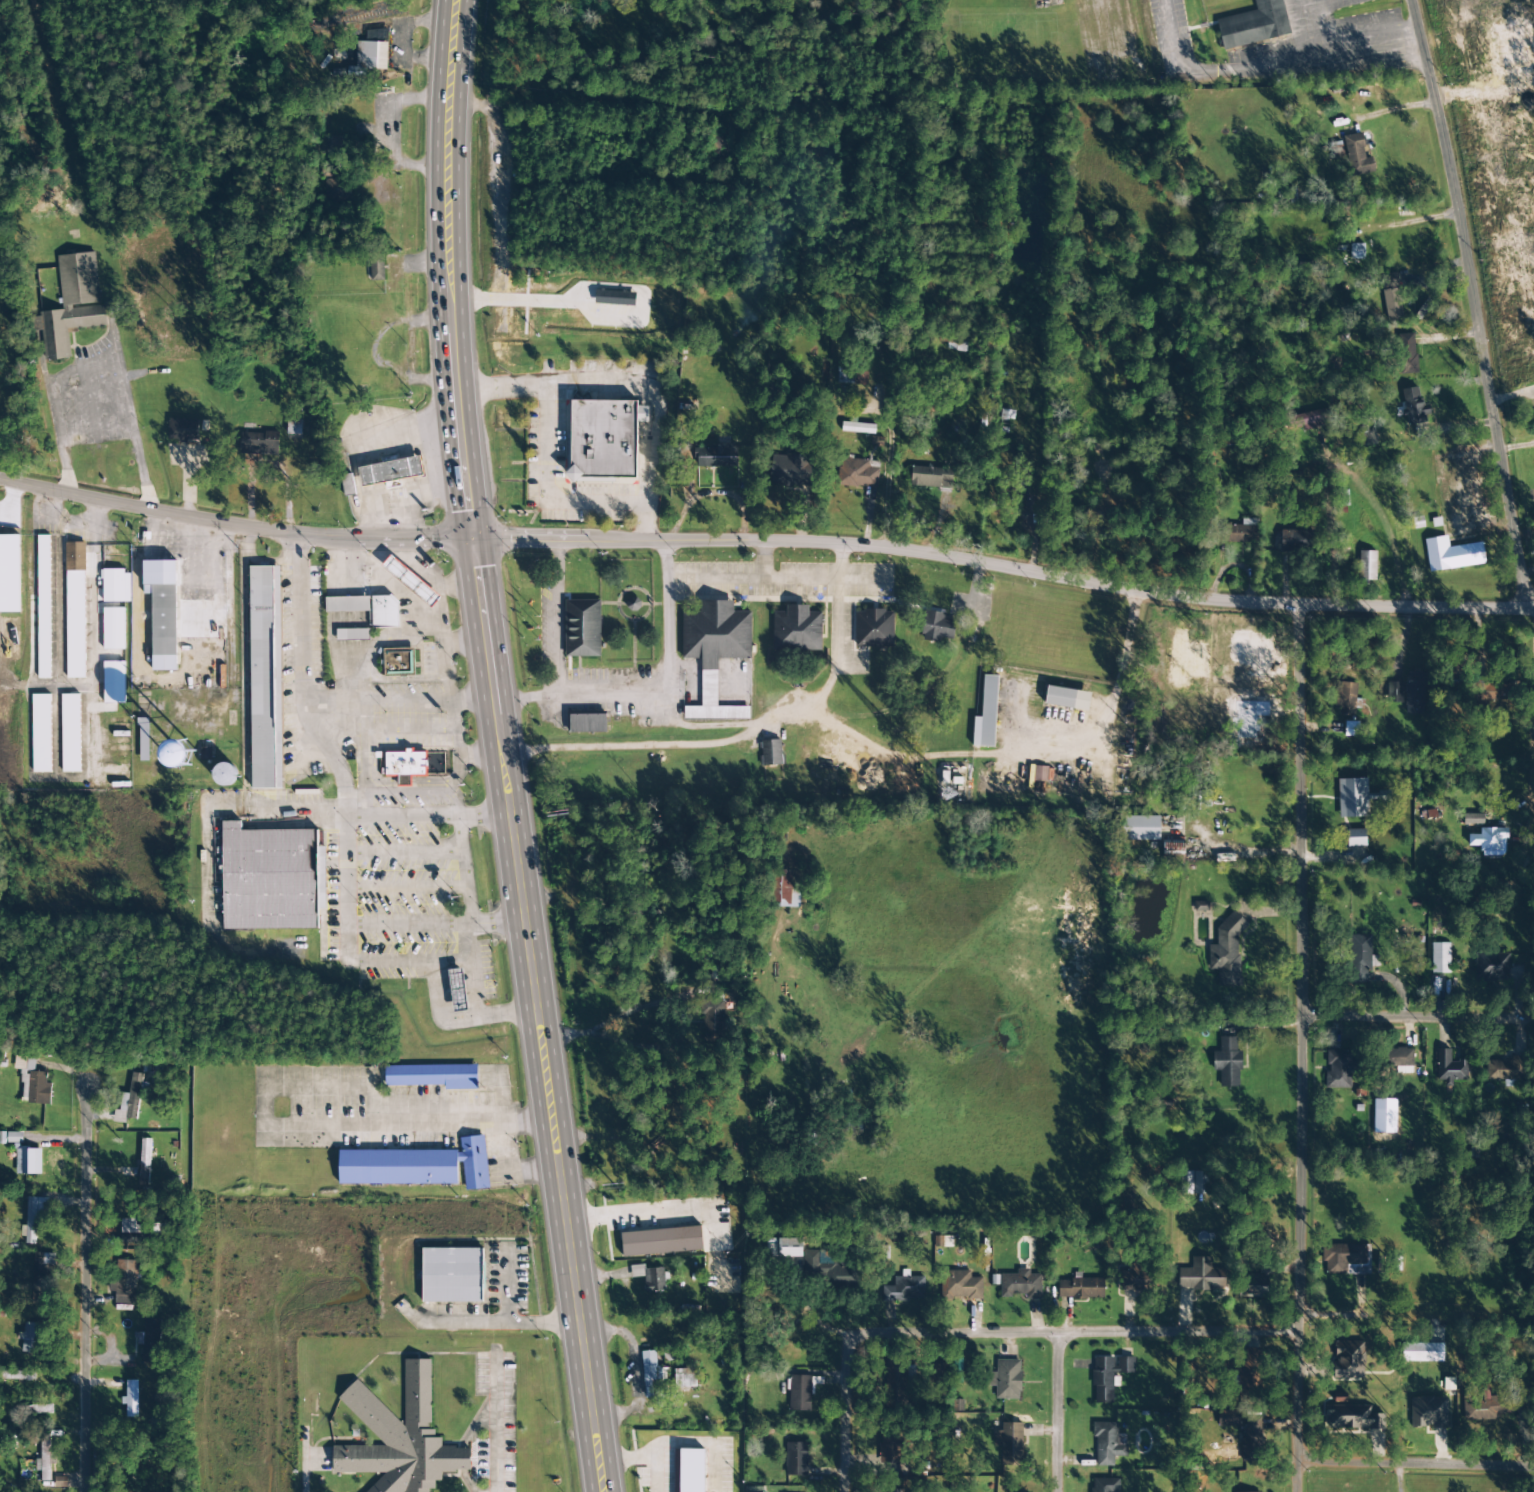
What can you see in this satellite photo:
building: (1254, 24)
road: (1171, 36)
building: (369, 58)
building: (338, 144)
building: (720, 145)
building: (1358, 155)
building: (333, 184)
building: (2, 253)
building: (376, 268)
building: (1392, 296)
building: (614, 298)
road: (1428, 300)
building: (73, 304)
building: (1406, 354)
road: (100, 363)
building: (851, 374)
building: (1413, 406)
building: (1309, 419)
building: (856, 427)
building: (182, 430)
building: (1365, 438)
building: (602, 441)
building: (259, 444)
building: (716, 456)
building: (790, 470)
building: (390, 471)
building: (857, 473)
building: (931, 477)
building: (347, 485)
road: (233, 526)
building: (1242, 532)
traffic signals: (470, 540)
building: (1296, 540)
road: (873, 549)
road: (762, 553)
building: (1452, 554)
road: (843, 555)
building: (1367, 566)
building: (9, 573)
building: (410, 581)
building: (116, 586)
parking lot: (793, 597)
road: (1403, 599)
road: (558, 603)
building: (633, 604)
road: (659, 606)
road: (668, 606)
building: (43, 607)
road: (609, 607)
building: (367, 608)
building: (75, 610)
road: (647, 613)
building: (163, 626)
building: (582, 627)
building: (936, 627)
building: (874, 628)
building: (113, 629)
building: (797, 632)
building: (352, 634)
building: (716, 635)
road: (636, 645)
building: (398, 662)
building: (265, 677)
building: (113, 682)
building: (1394, 692)
building: (1414, 693)
building: (1492, 693)
parking lot: (653, 694)
building: (1060, 697)
road: (516, 701)
building: (1347, 701)
building: (986, 715)
building: (586, 723)
building: (1351, 729)
building: (41, 733)
building: (71, 733)
building: (143, 740)
road: (499, 747)
building: (771, 753)
building: (179, 754)
building: (403, 766)
building: (224, 774)
building: (1042, 774)
building: (1352, 798)
building: (1473, 819)
building: (1141, 828)
building: (1355, 837)
building: (1489, 840)
building: (1172, 847)
building: (268, 879)
building: (784, 890)
building: (1201, 906)
building: (1226, 953)
building: (1360, 958)
building: (1440, 958)
building: (1491, 967)
building: (457, 991)
gas station: (457, 991)
road: (1403, 1007)
building: (711, 1020)
road: (1276, 1046)
building: (1400, 1060)
building: (1227, 1062)
building: (1449, 1067)
building: (1338, 1069)
building: (1505, 1069)
building: (433, 1076)
building: (32, 1082)
building: (129, 1100)
building: (28, 1161)
building: (144, 1161)
building: (416, 1166)
building: (1193, 1182)
road: (652, 1211)
building: (34, 1217)
building: (131, 1231)
building: (661, 1241)
building: (1342, 1257)
building: (819, 1265)
building: (451, 1275)
building: (1201, 1275)
building: (41, 1277)
building: (649, 1277)
building: (1134, 1280)
building: (124, 1281)
building: (1021, 1284)
building: (960, 1285)
road: (83, 1287)
building: (1254, 1287)
building: (1080, 1288)
building: (905, 1289)
road: (1059, 1334)
building: (29, 1337)
building: (150, 1341)
building: (1422, 1352)
building: (1348, 1360)
building: (650, 1372)
building: (1250, 1372)
building: (940, 1373)
building: (18, 1374)
building: (1108, 1376)
building: (684, 1378)
building: (1006, 1379)
building: (894, 1383)
building: (800, 1393)
building: (132, 1398)
building: (1487, 1407)
building: (1428, 1412)
building: (27, 1413)
road: (1057, 1413)
road: (841, 1416)
building: (1229, 1418)
building: (1352, 1418)
building: (399, 1438)
building: (1010, 1442)
building: (1251, 1442)
building: (1108, 1444)
building: (891, 1448)
road: (1403, 1455)
building: (44, 1458)
building: (796, 1458)
building: (689, 1471)
building: (1105, 1485)
building: (891, 1491)

